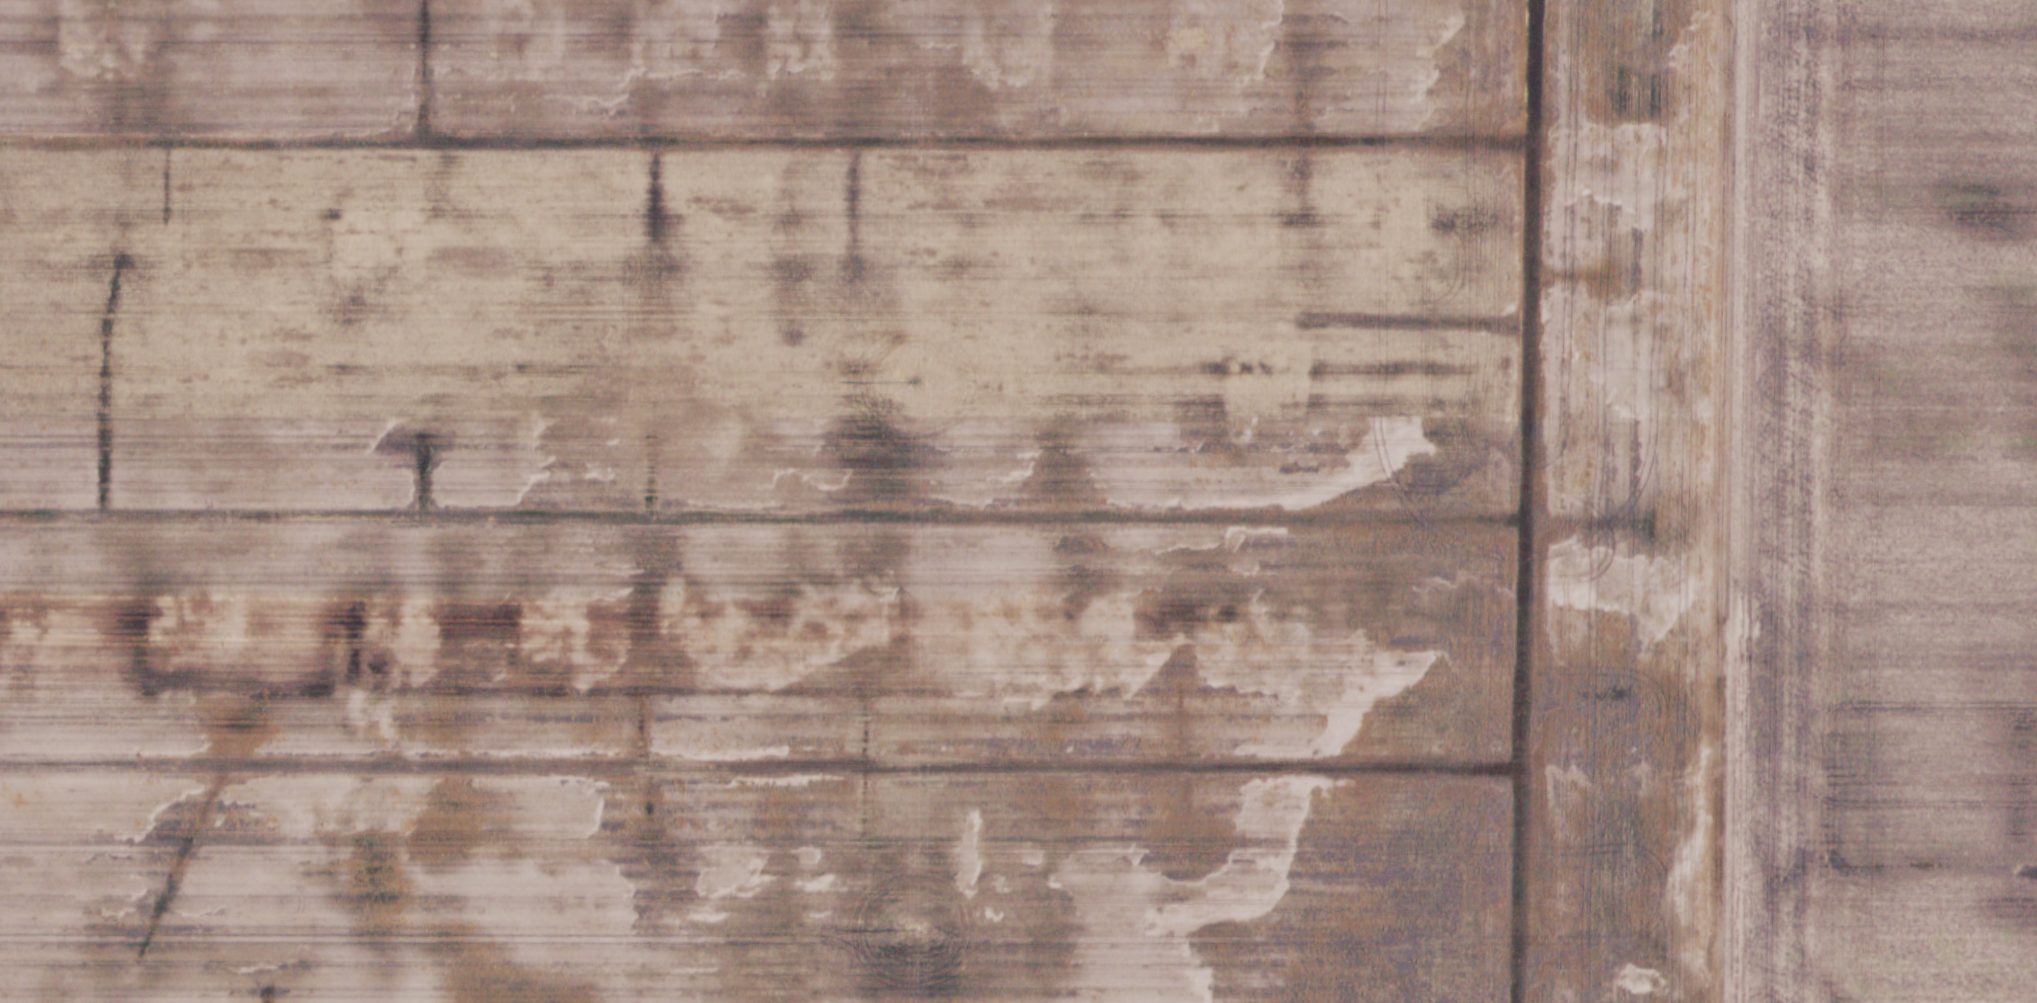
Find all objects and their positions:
power tower: (906, 380)
power tower: (904, 929)

